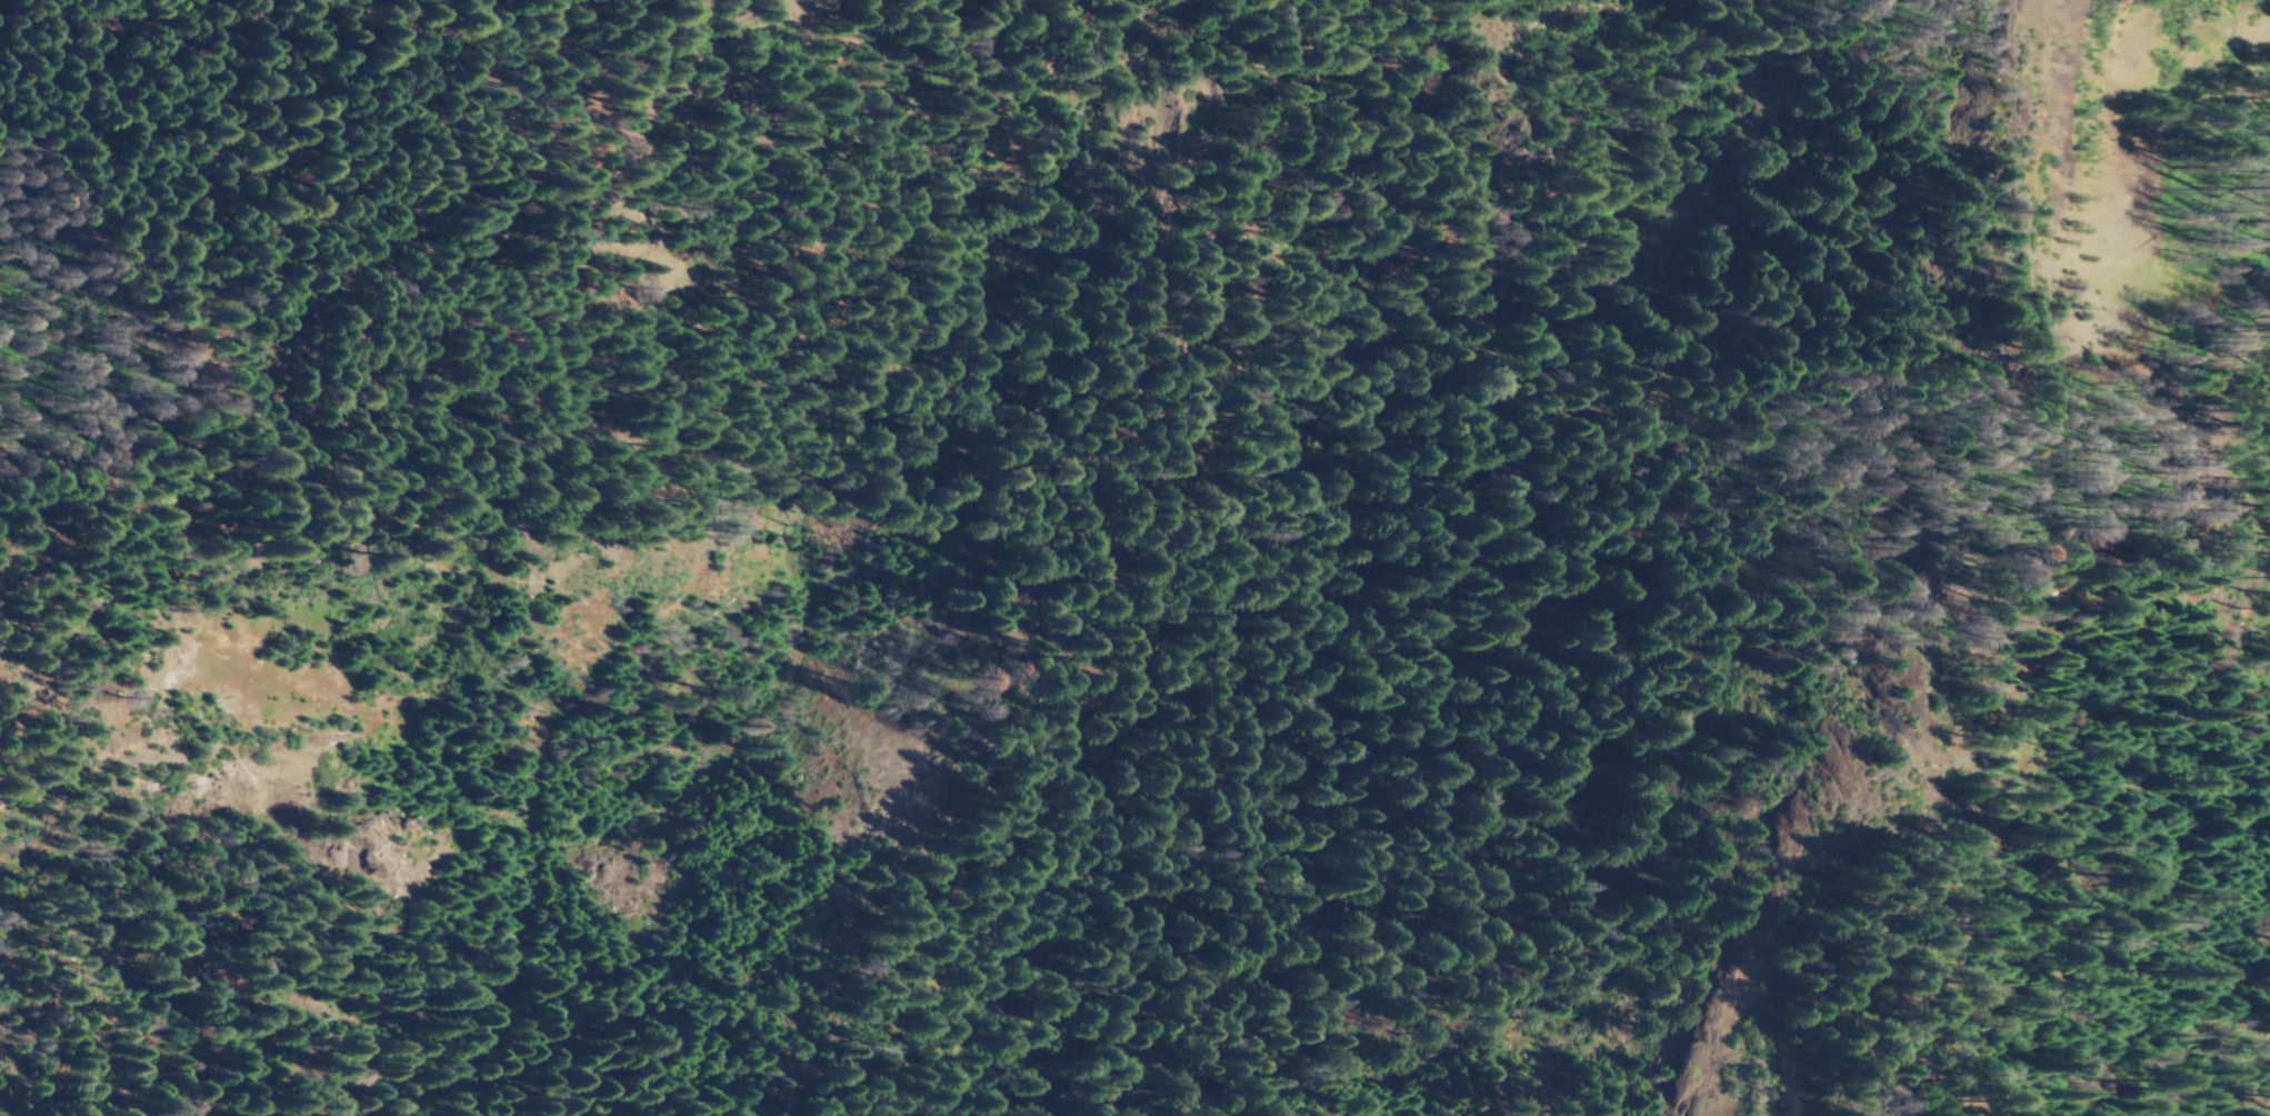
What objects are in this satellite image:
road: (2018, 256)
road: (2114, 574)
road: (1912, 814)

